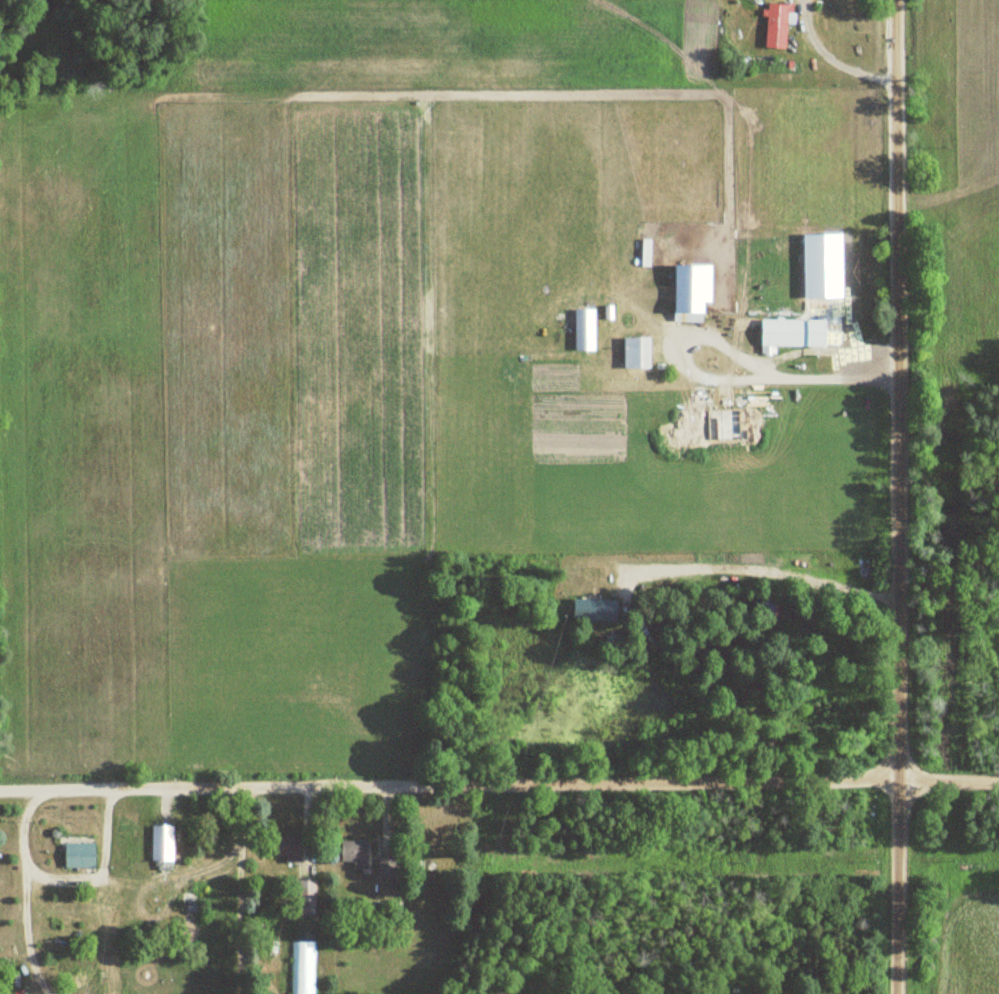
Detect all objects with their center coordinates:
building: (778, 25)
building: (695, 289)
building: (585, 329)
building: (796, 333)
building: (640, 351)
road: (730, 380)
road: (898, 497)
road: (761, 574)
road: (499, 785)
road: (303, 830)
building: (163, 843)
building: (289, 847)
building: (357, 852)
building: (81, 855)
road: (238, 889)
building: (309, 896)

